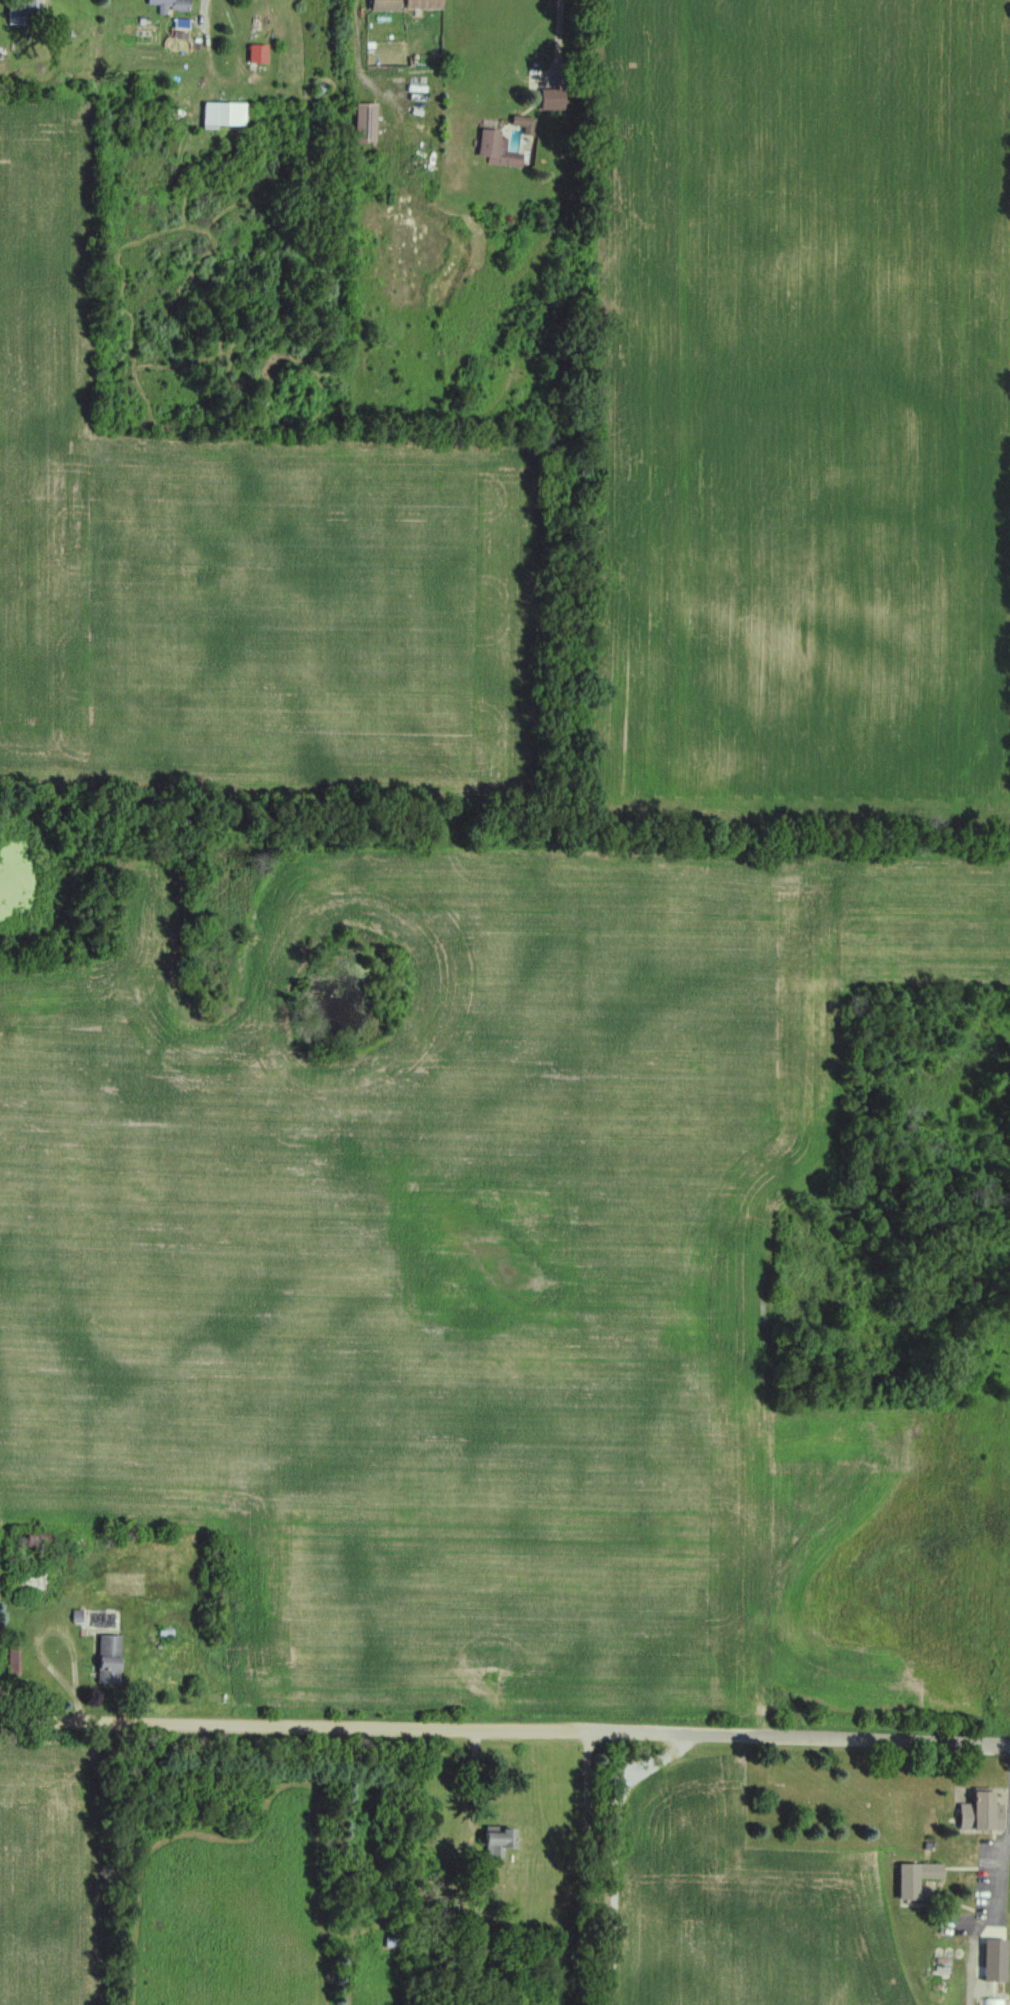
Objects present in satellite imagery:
building: (420, 4)
building: (377, 5)
building: (167, 6)
building: (18, 7)
road: (203, 11)
road: (552, 40)
building: (254, 54)
building: (218, 115)
building: (357, 123)
building: (499, 142)
building: (102, 1659)
road: (505, 1729)
building: (973, 1810)
road: (1002, 1829)
building: (491, 1840)
road: (715, 1869)
building: (910, 1878)
building: (989, 1956)
building: (990, 2001)

